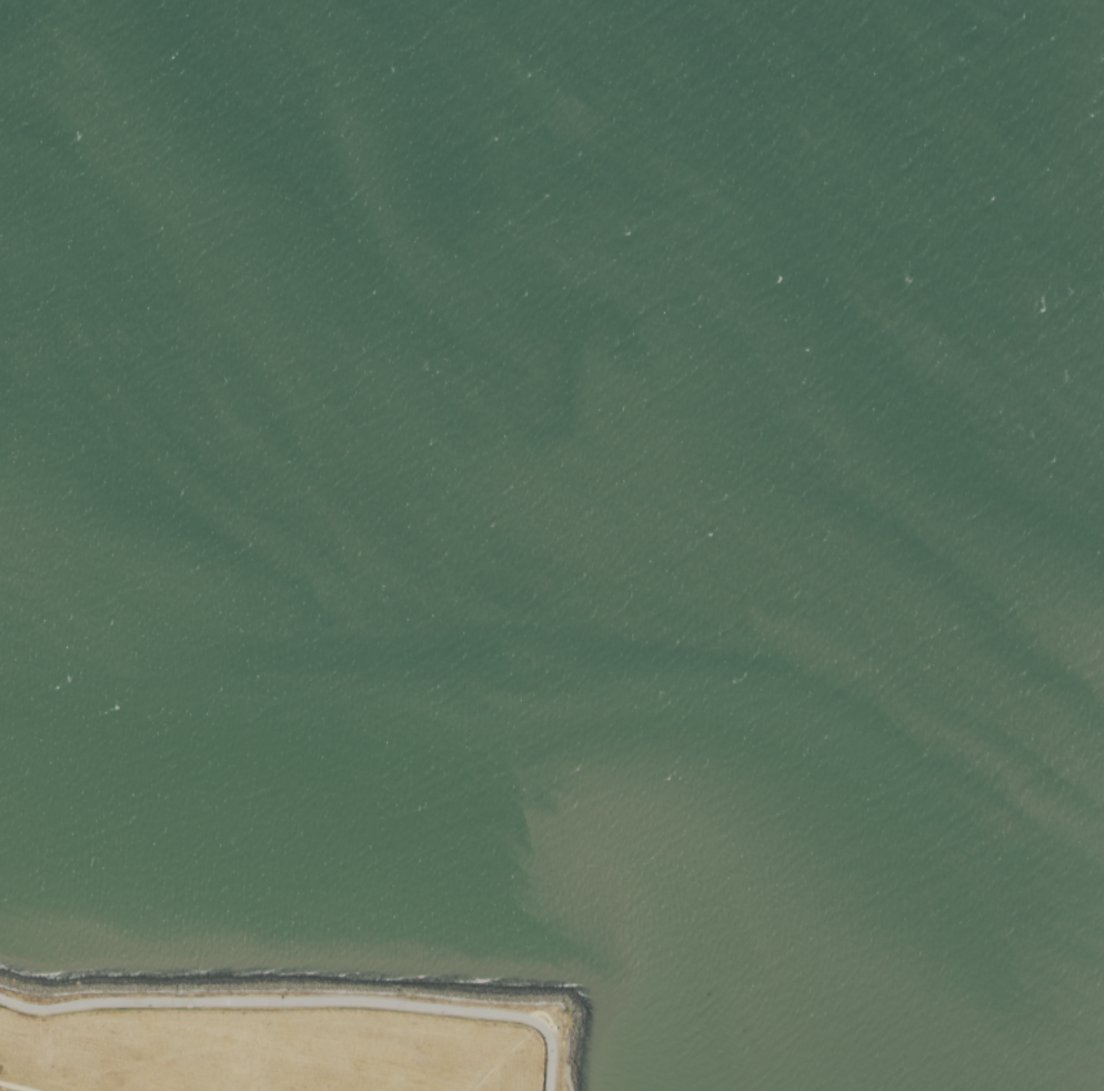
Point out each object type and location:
road: (304, 1001)
road: (542, 1013)
park: (275, 1041)
road: (502, 1057)
road: (568, 1069)
road: (20, 1085)

